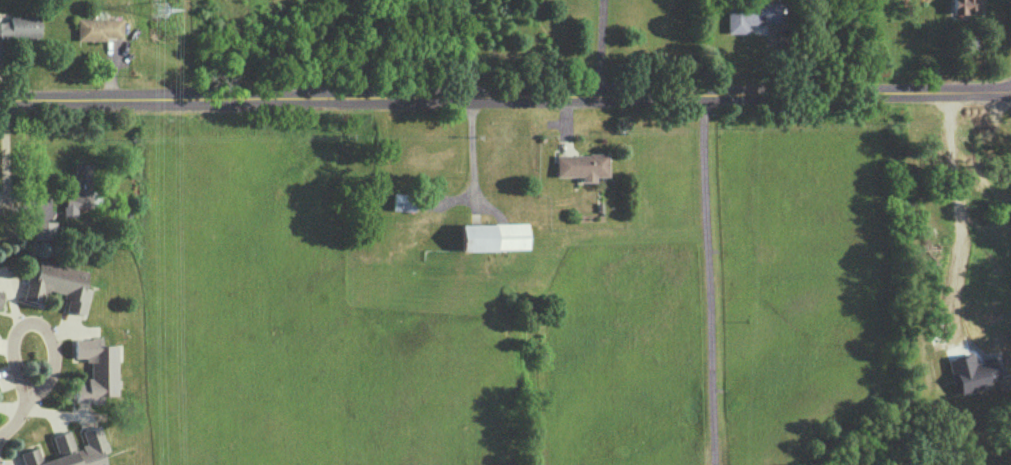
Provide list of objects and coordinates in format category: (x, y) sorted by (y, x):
building: (964, 6)
power tower: (158, 10)
building: (750, 15)
building: (21, 27)
building: (99, 28)
road: (601, 47)
road: (505, 94)
road: (473, 155)
building: (581, 165)
road: (5, 167)
building: (78, 188)
building: (43, 217)
building: (494, 236)
road: (702, 279)
building: (57, 285)
building: (0, 293)
road: (37, 327)
building: (95, 369)
road: (15, 426)
building: (71, 450)

